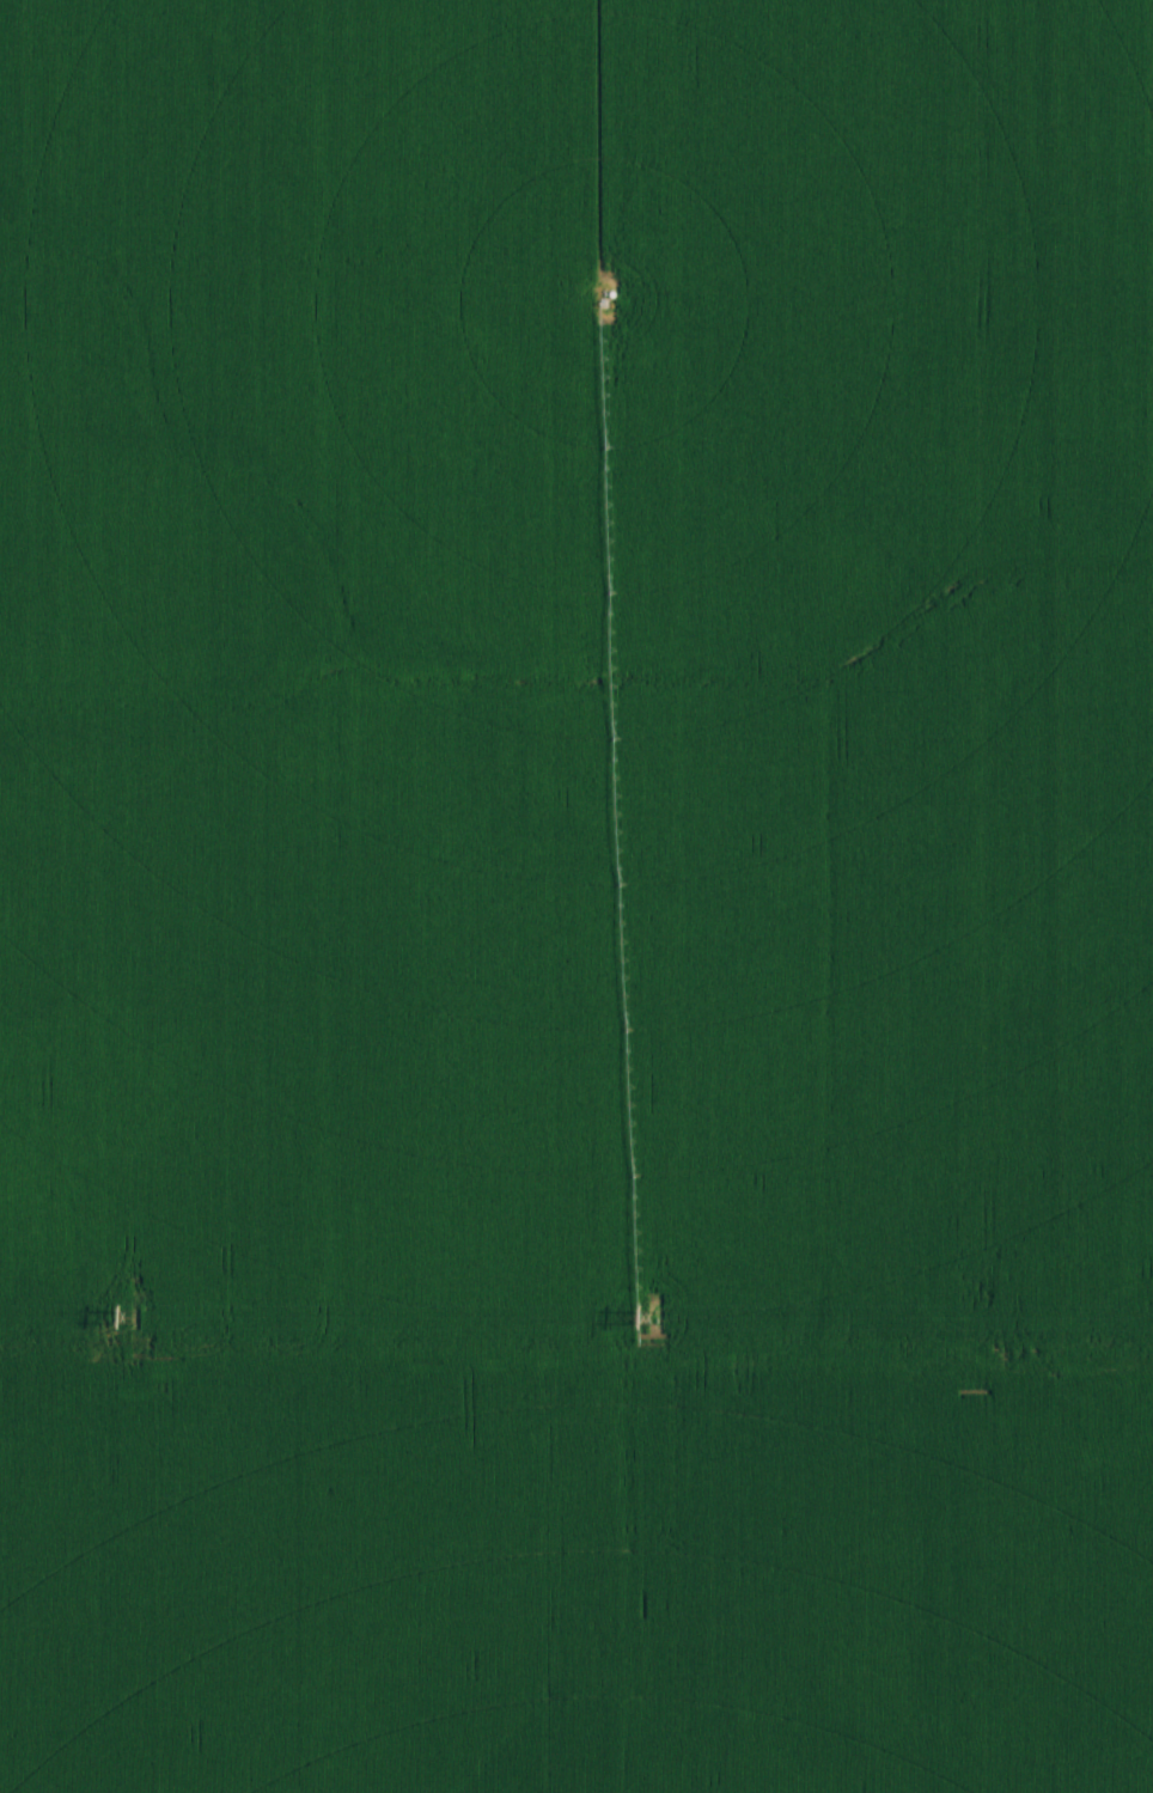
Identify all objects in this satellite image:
power tower: (652, 1319)
power tower: (136, 1321)

